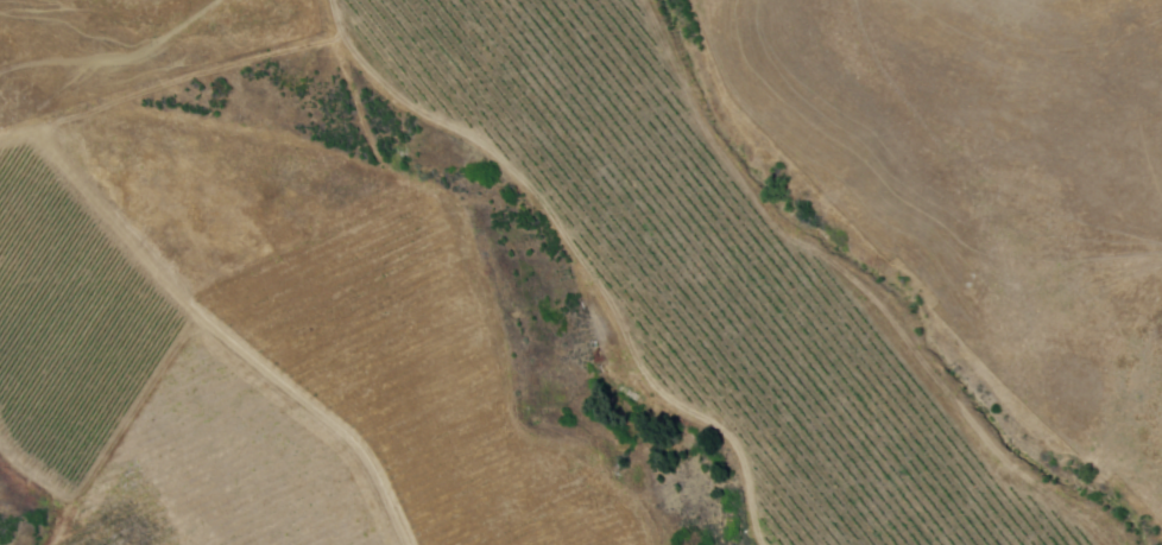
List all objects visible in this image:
crop: (530, 287)

